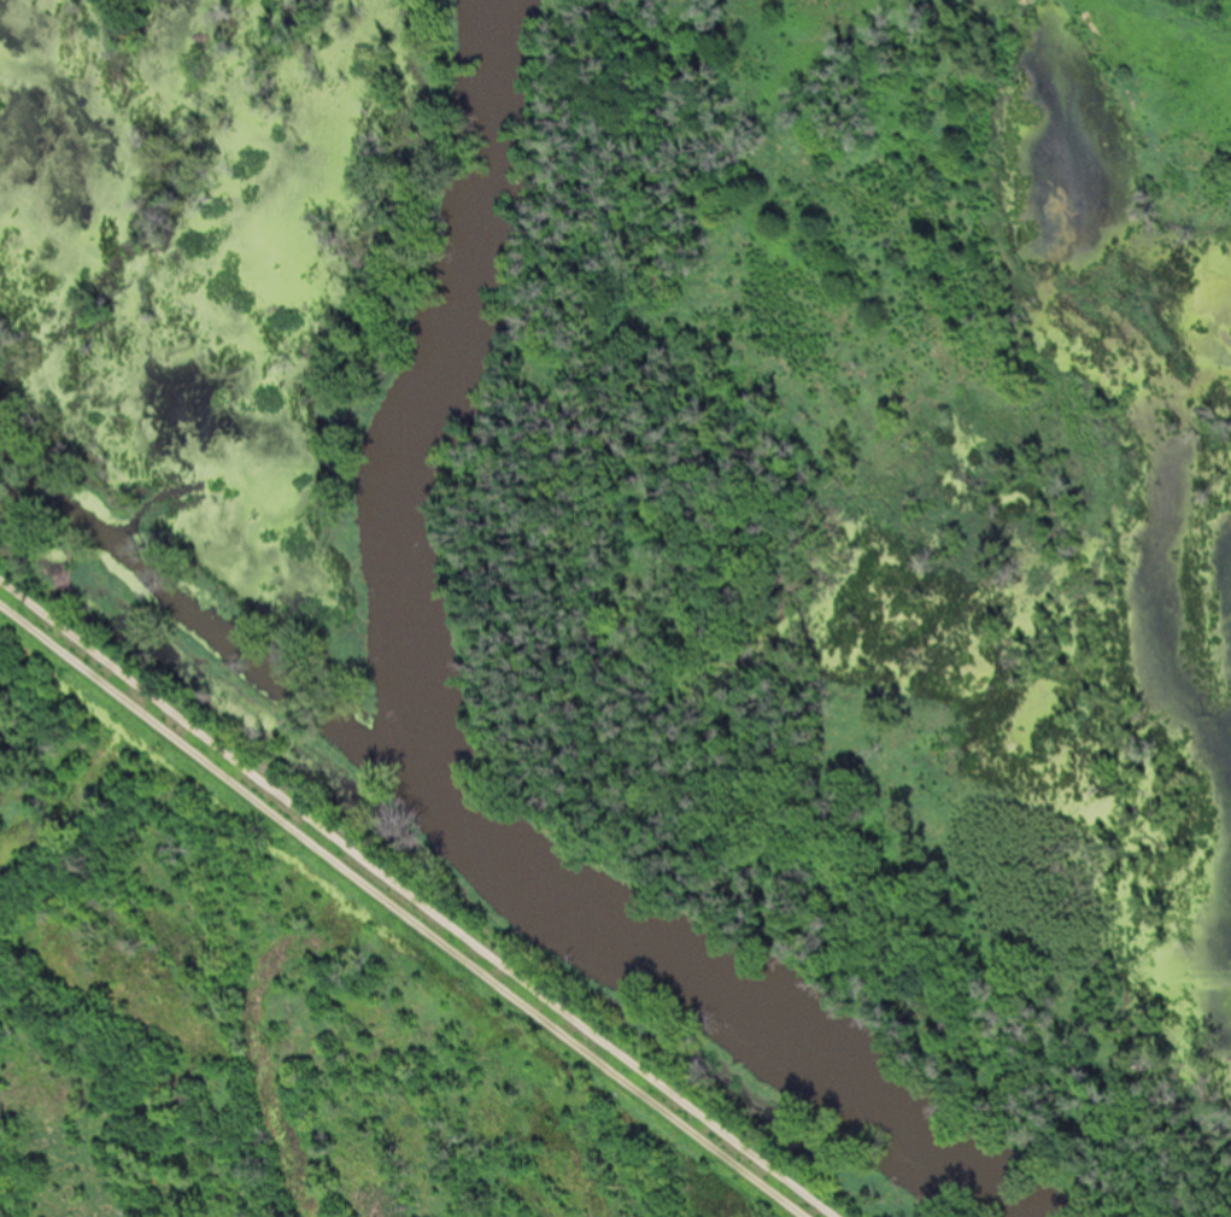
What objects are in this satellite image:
river: (482, 844)
road: (417, 906)

